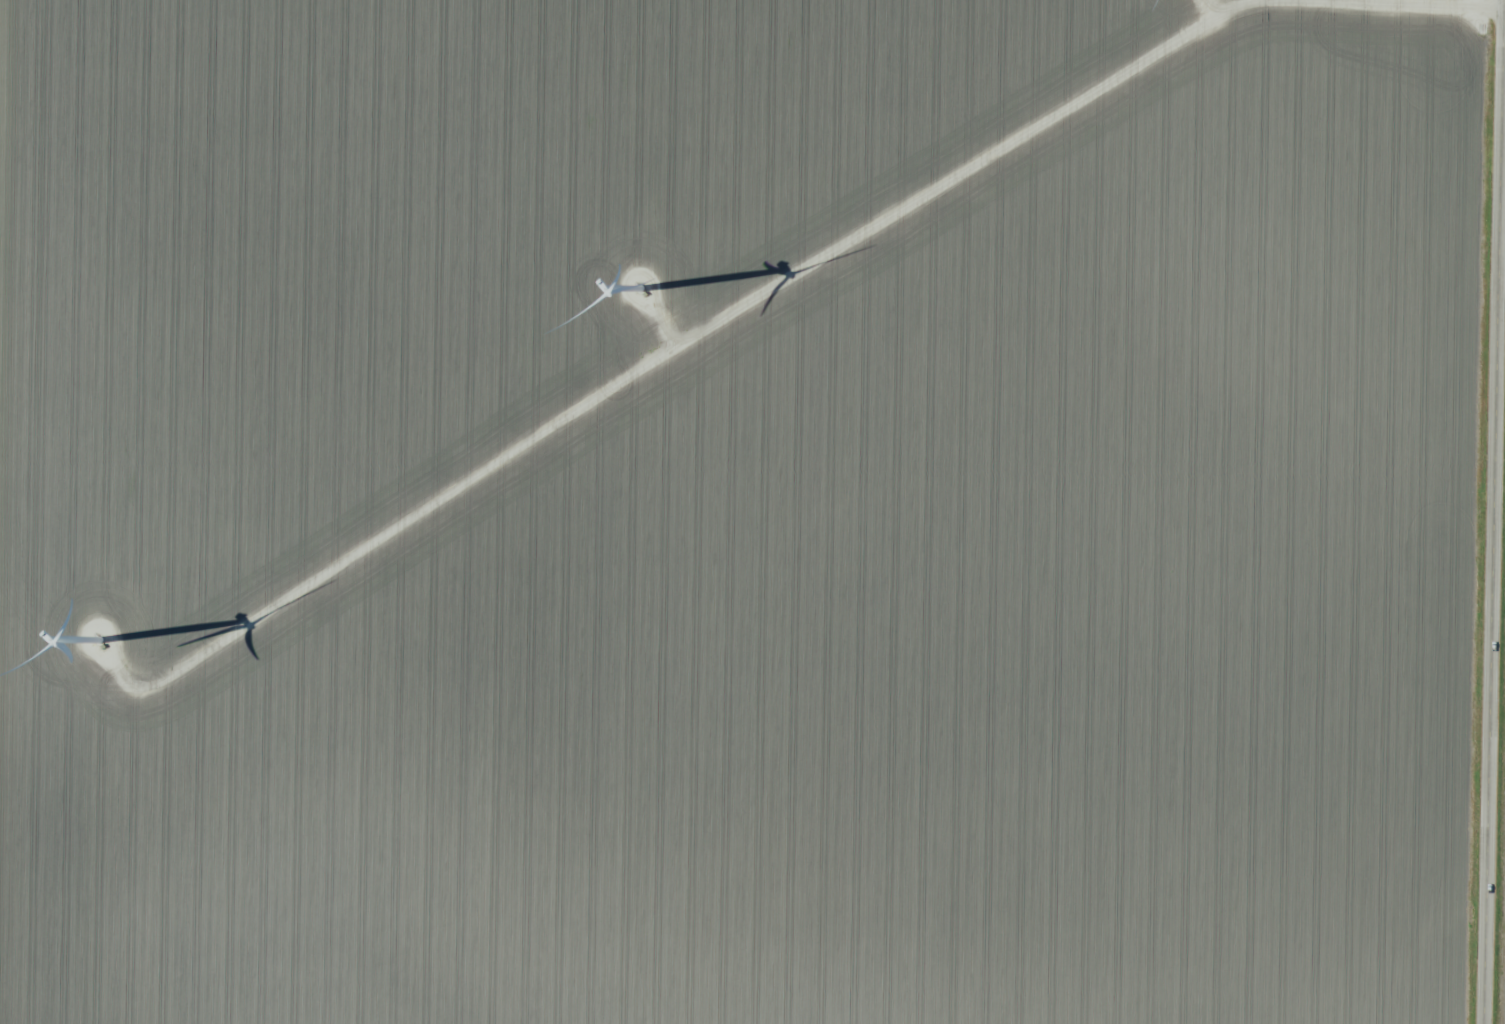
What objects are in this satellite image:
wind turbine: (660, 297)
road: (1496, 550)
wind turbine: (106, 626)

